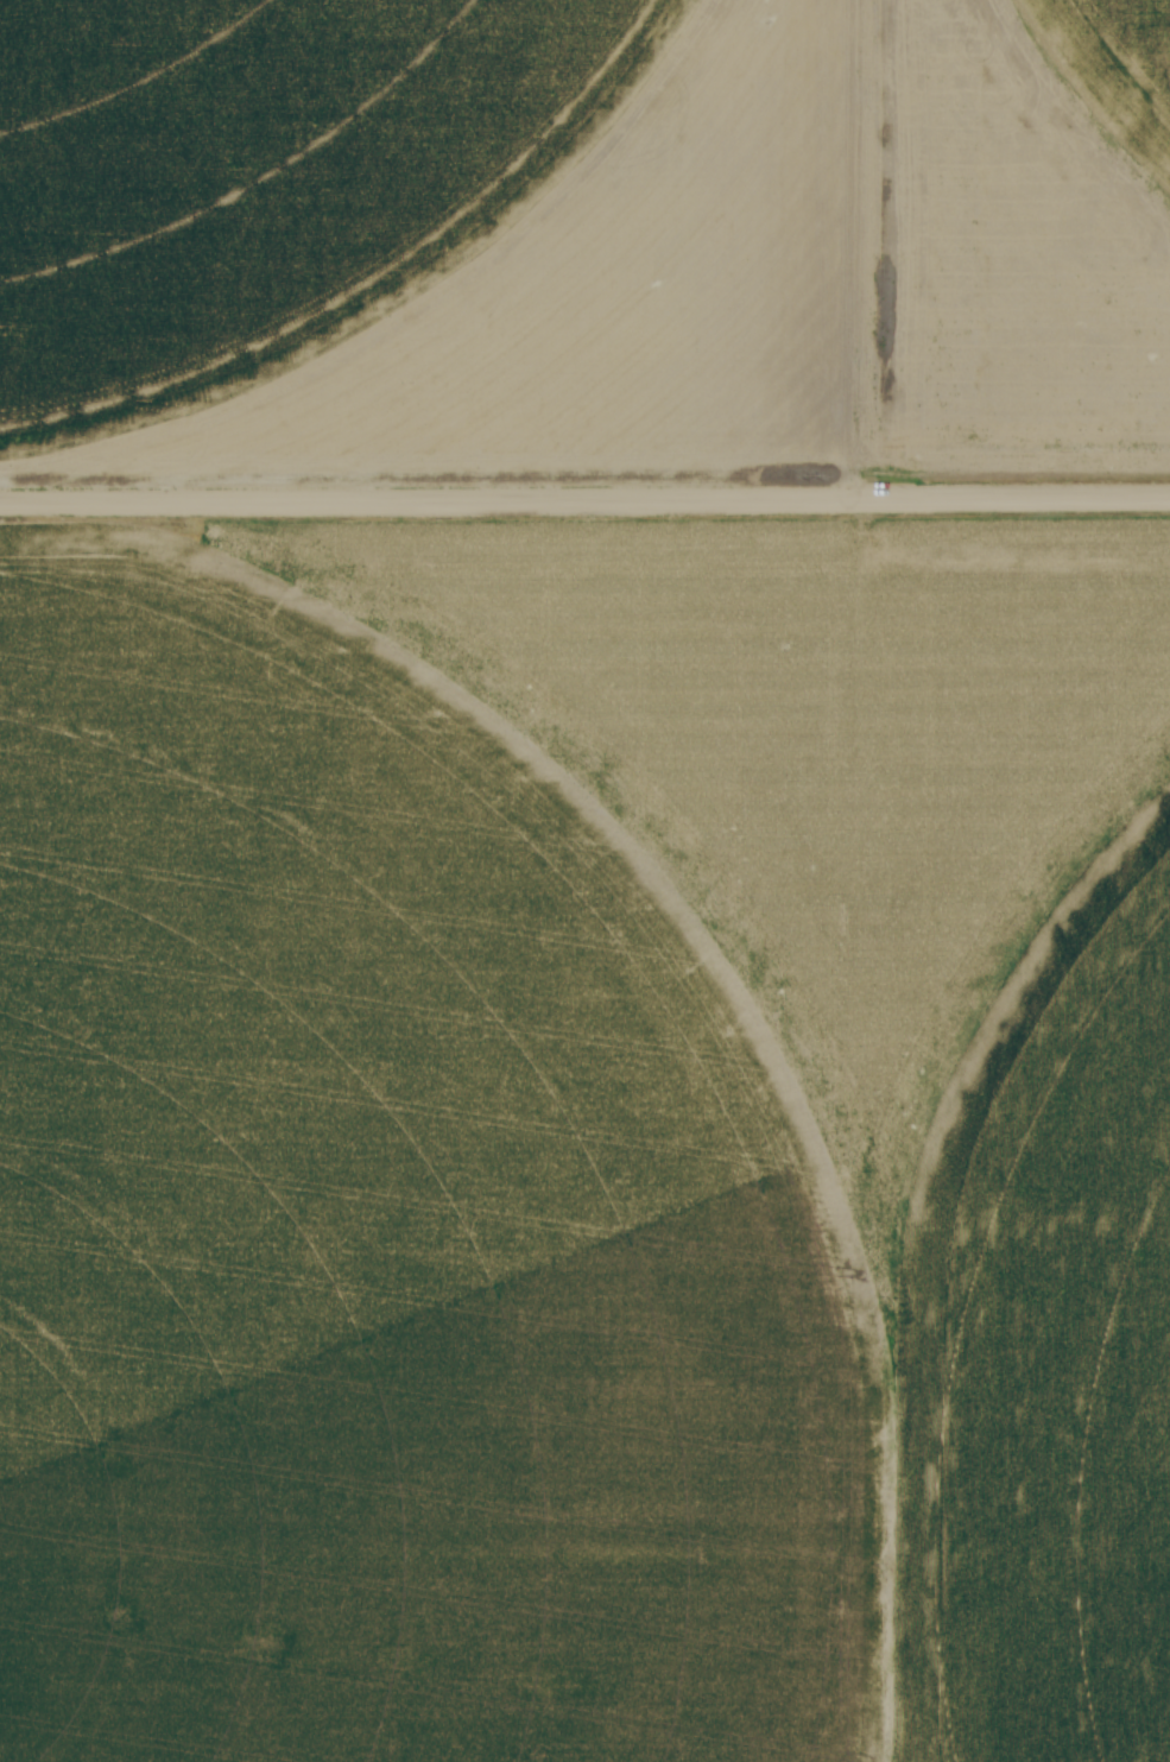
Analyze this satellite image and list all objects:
road: (584, 501)

